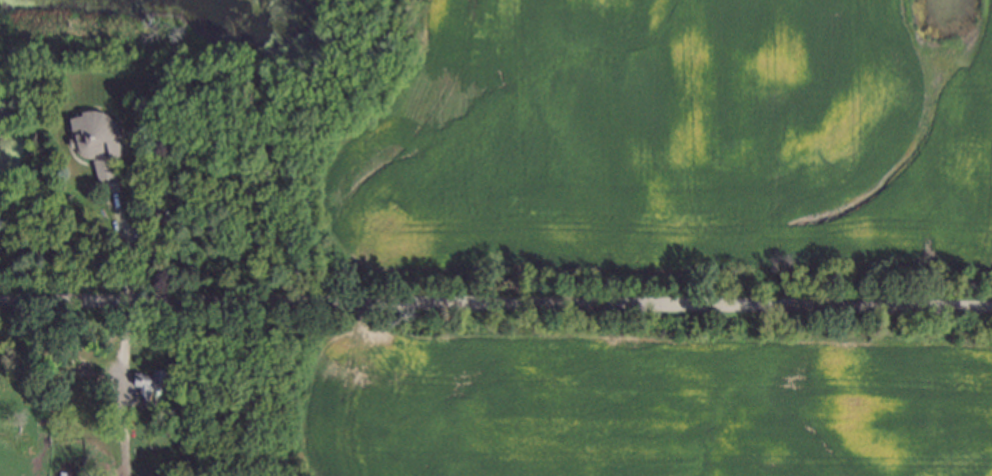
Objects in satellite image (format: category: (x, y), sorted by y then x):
building: (94, 137)
crop: (673, 152)
road: (122, 242)
road: (495, 306)
building: (148, 383)
building: (67, 473)

